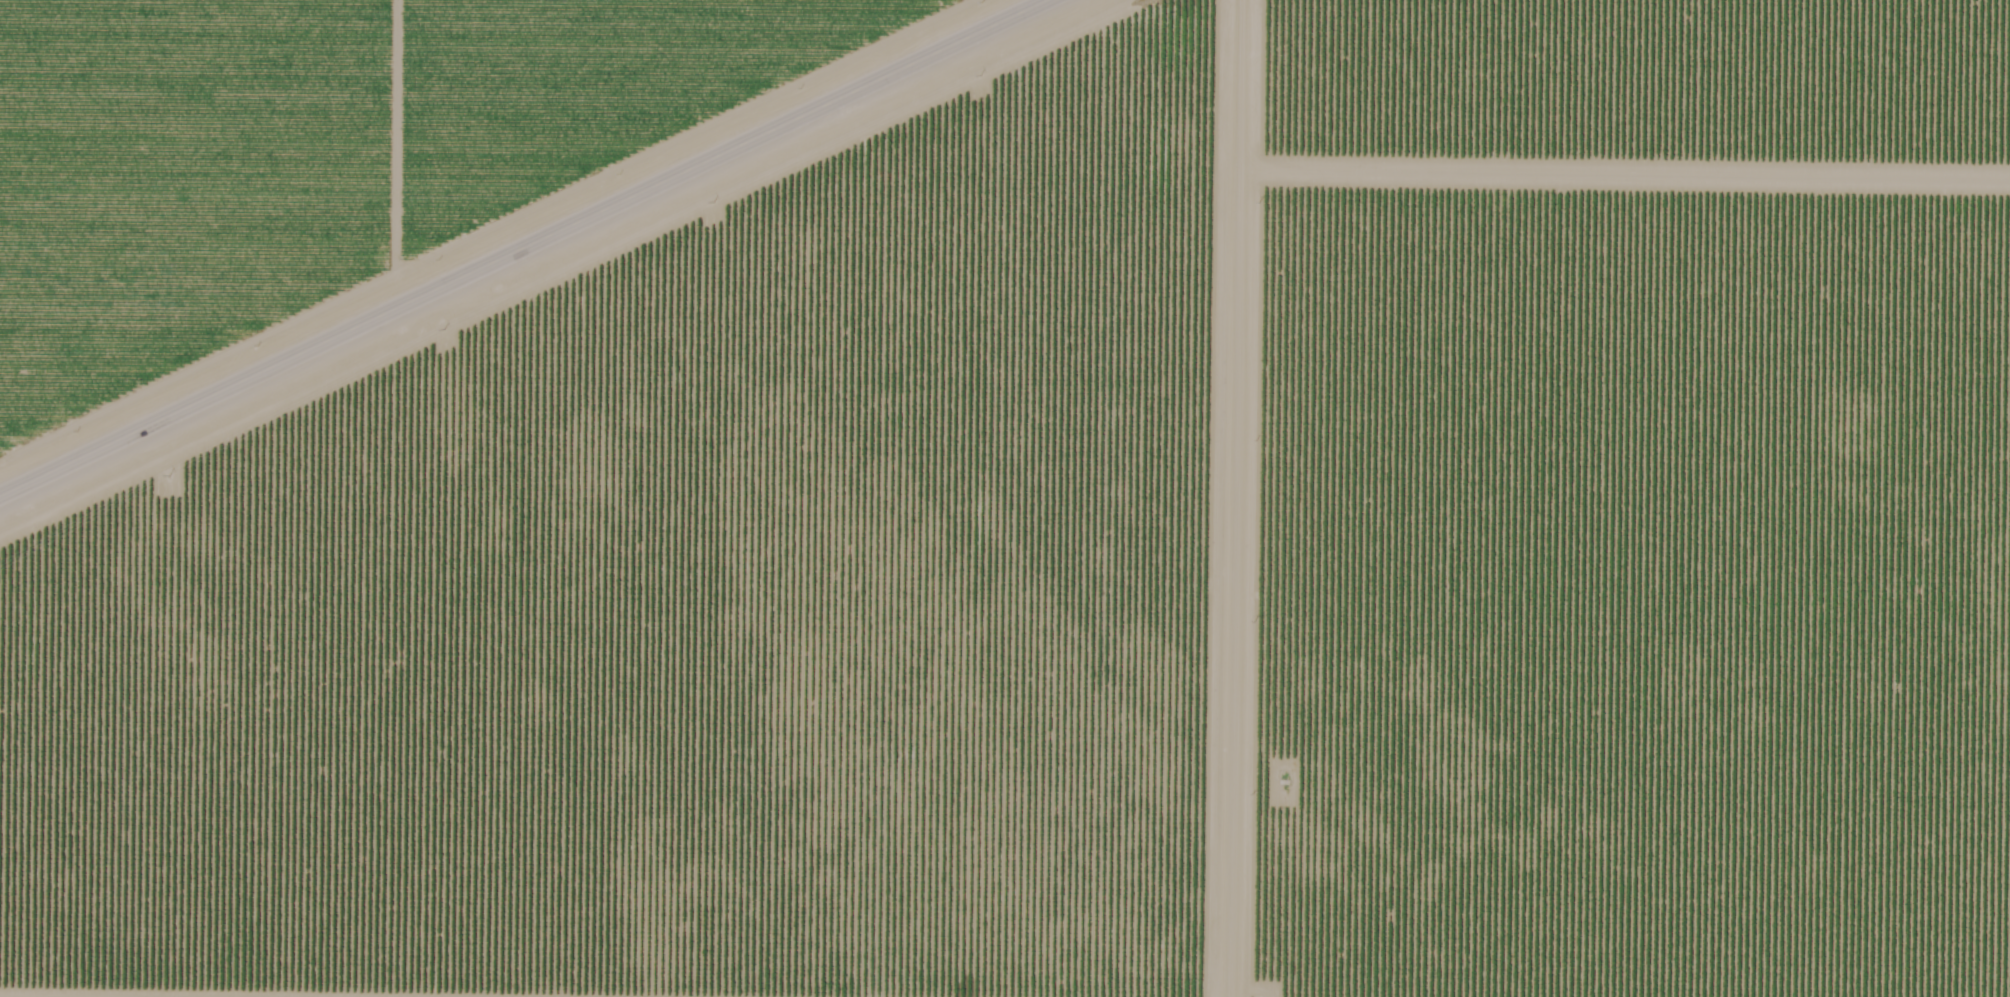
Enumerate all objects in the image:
crop: (306, 154)
road: (525, 237)
road: (1239, 498)

